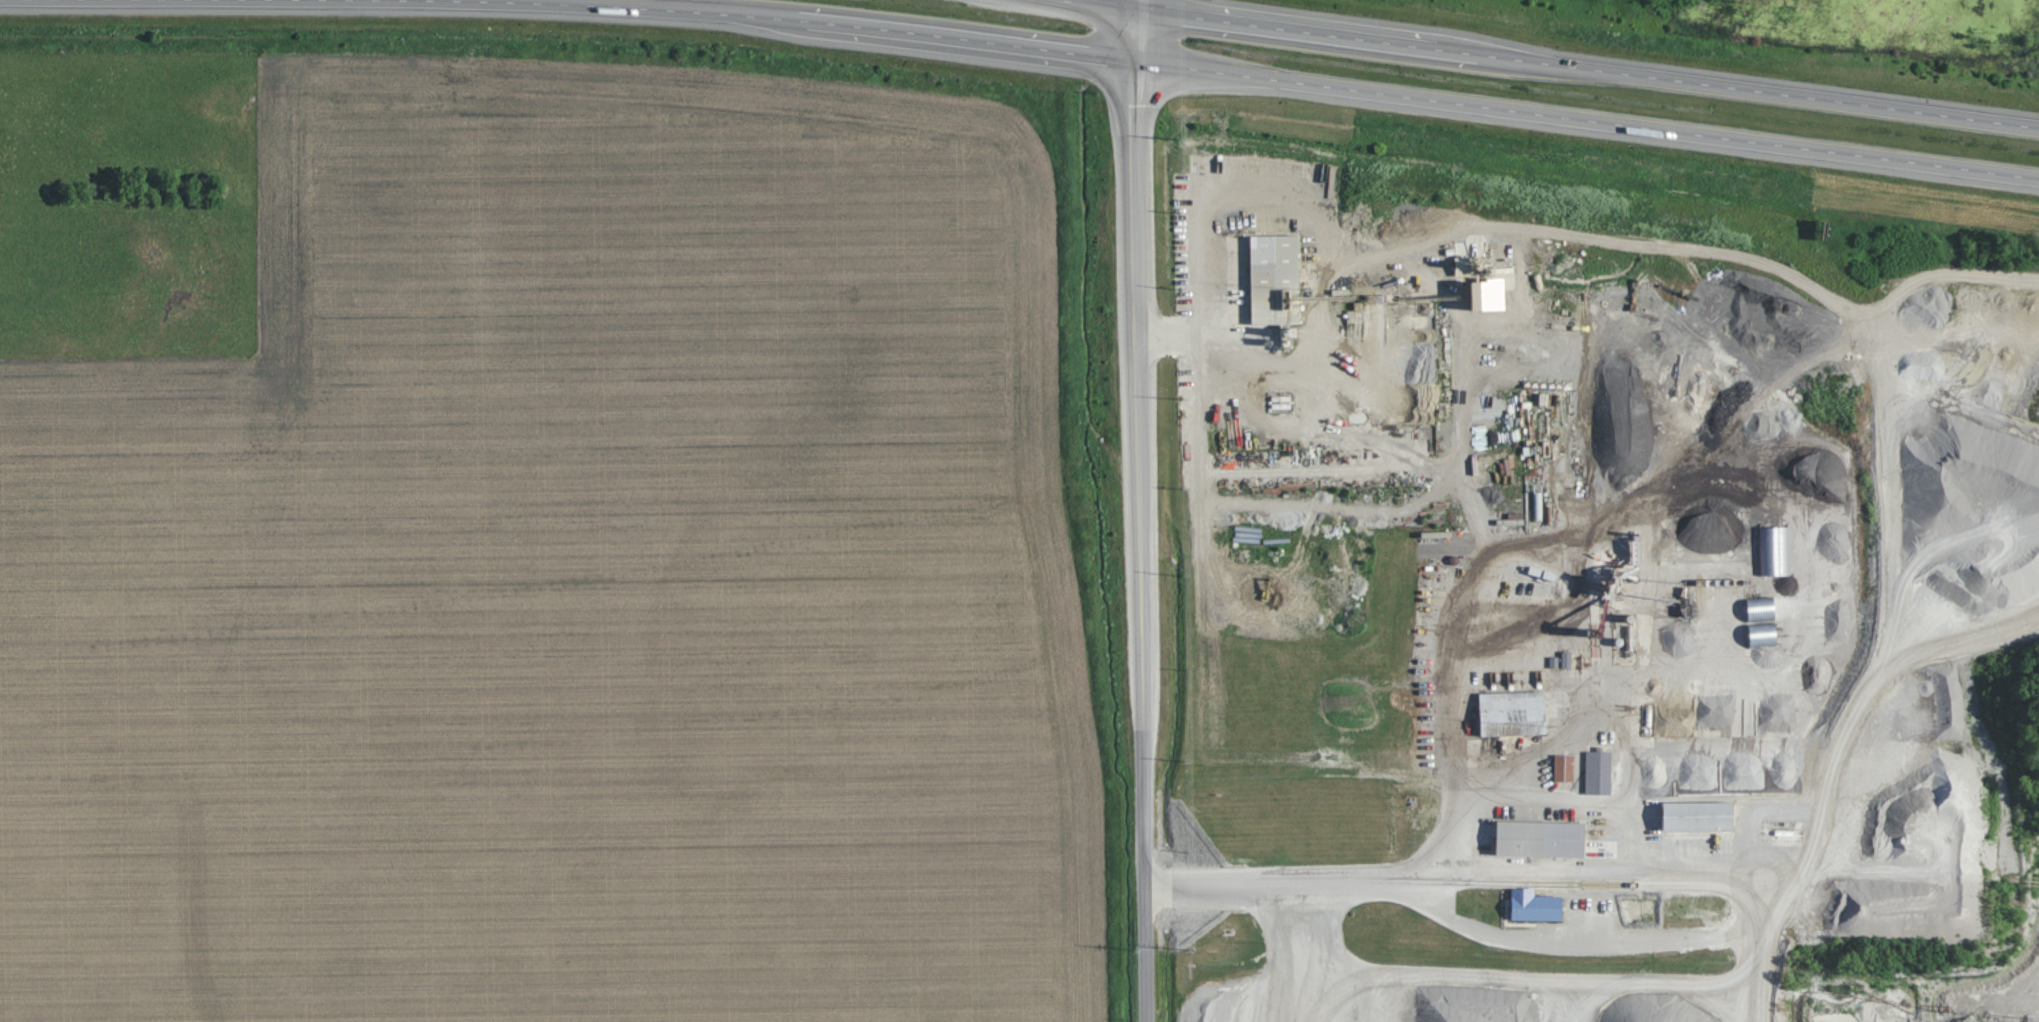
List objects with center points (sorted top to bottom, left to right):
road: (596, 6)
road: (1131, 30)
road: (1586, 70)
road: (1583, 120)
road: (1887, 483)
road: (1139, 541)
building: (1774, 550)
quarry: (1631, 592)
building: (1762, 612)
building: (1764, 634)
building: (1513, 713)
park: (2025, 732)
building: (1564, 767)
building: (1598, 767)
building: (1700, 815)
building: (1542, 838)
building: (1536, 906)

